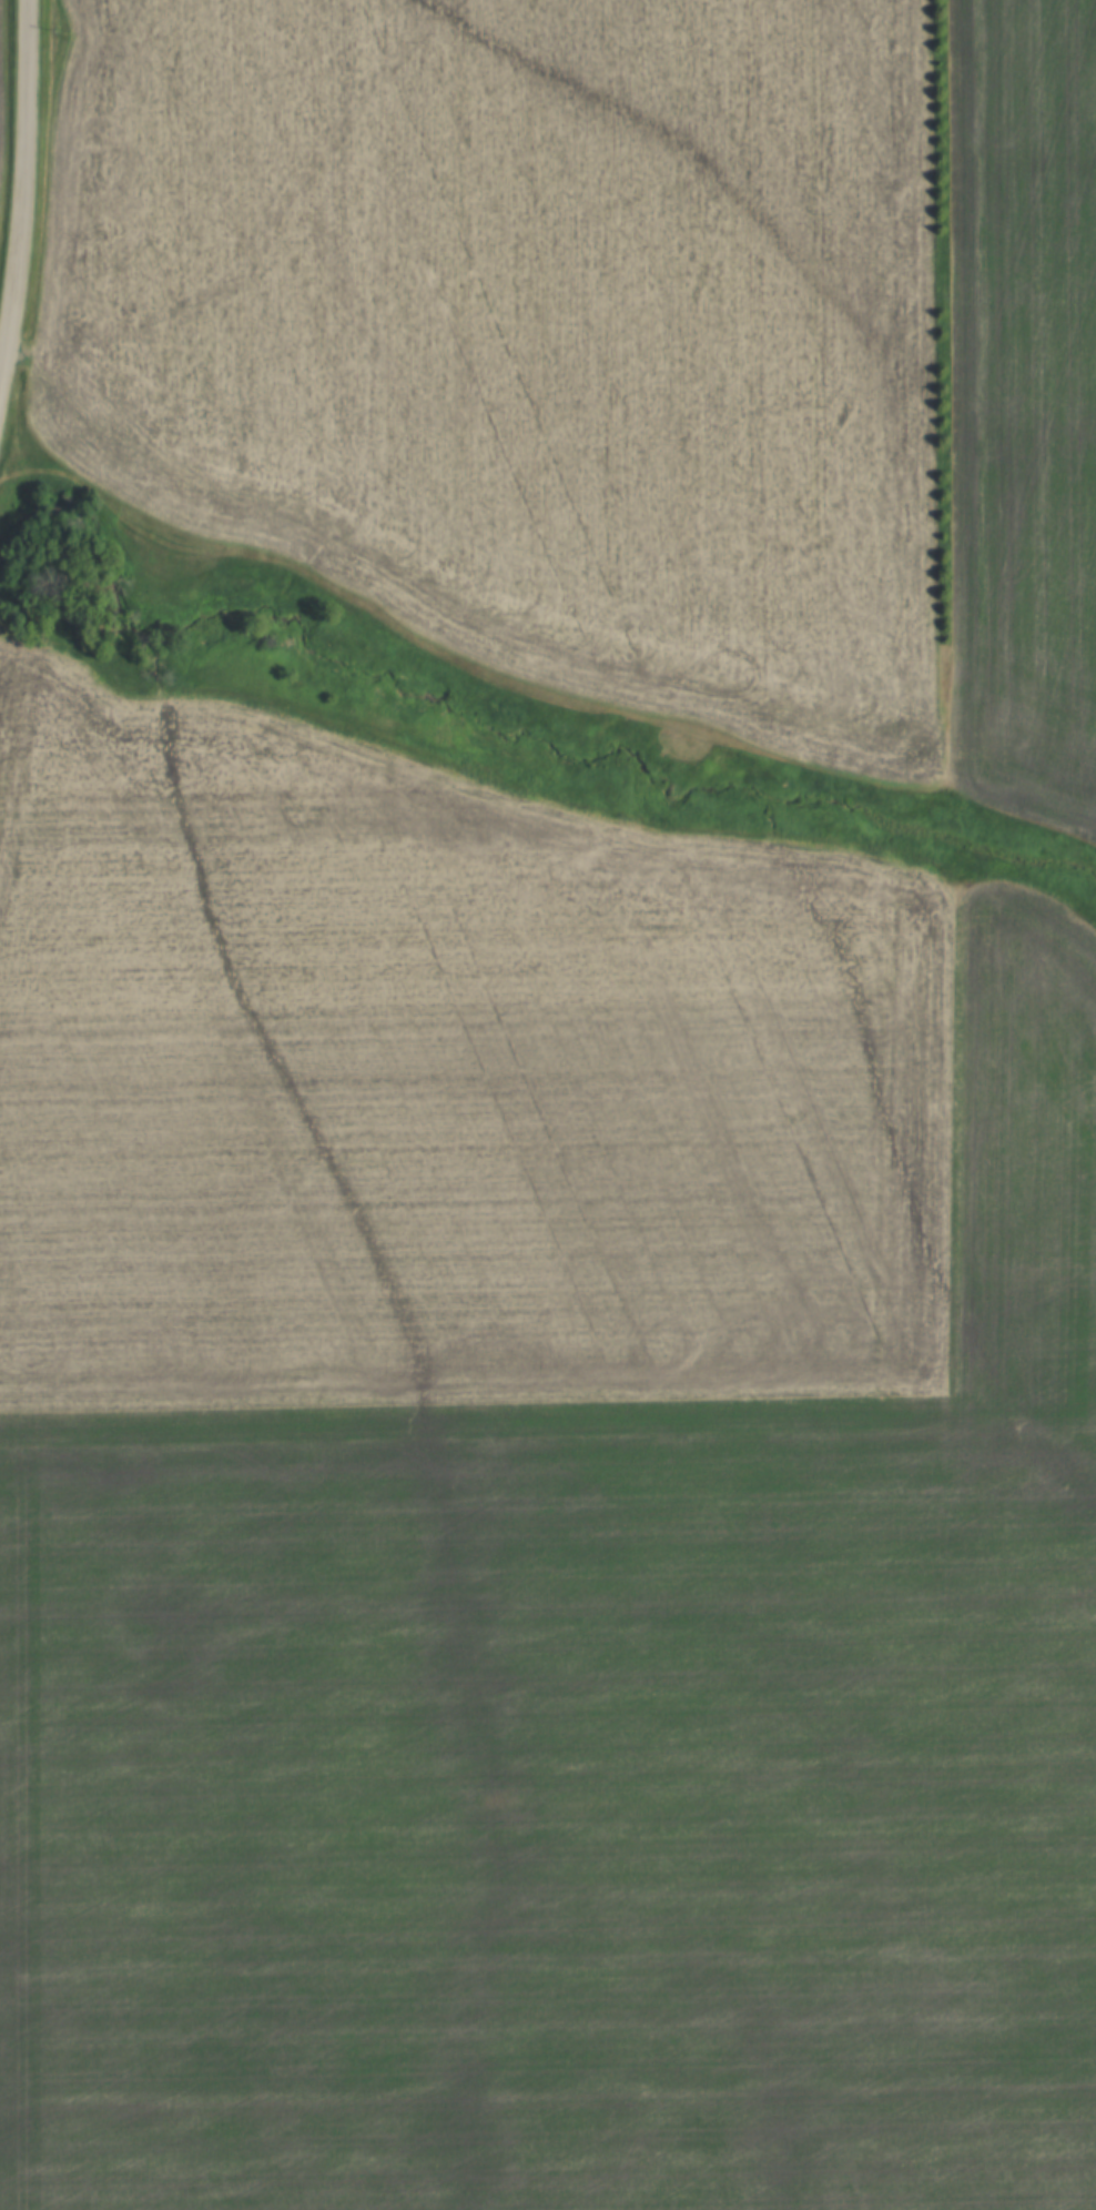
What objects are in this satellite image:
crop: (2, 73)
road: (22, 193)
crop: (531, 333)
crop: (1024, 407)
crop: (446, 1084)
crop: (585, 1757)

